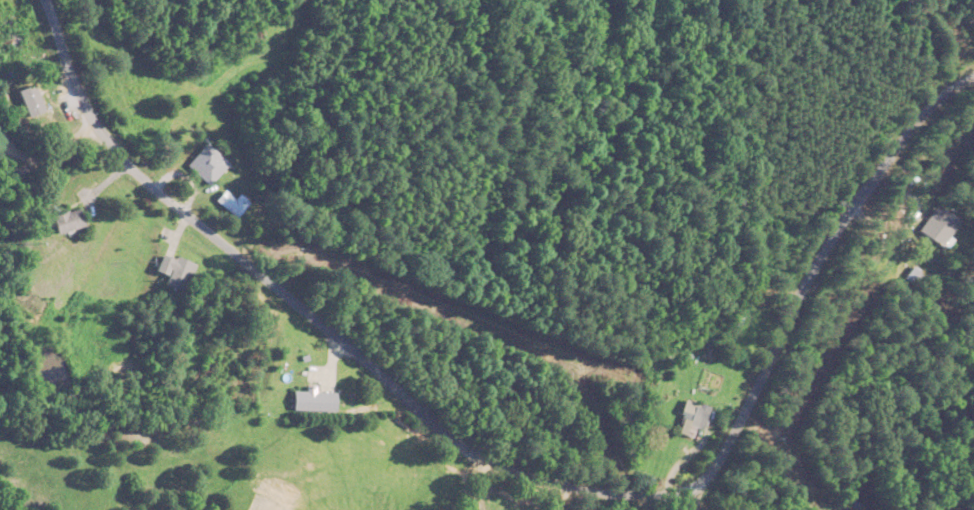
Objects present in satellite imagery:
building: (41, 100)
building: (209, 163)
building: (234, 203)
building: (71, 221)
building: (943, 223)
building: (177, 272)
building: (316, 399)
building: (694, 418)
road: (513, 473)
road: (473, 481)
road: (683, 498)
road: (561, 499)

